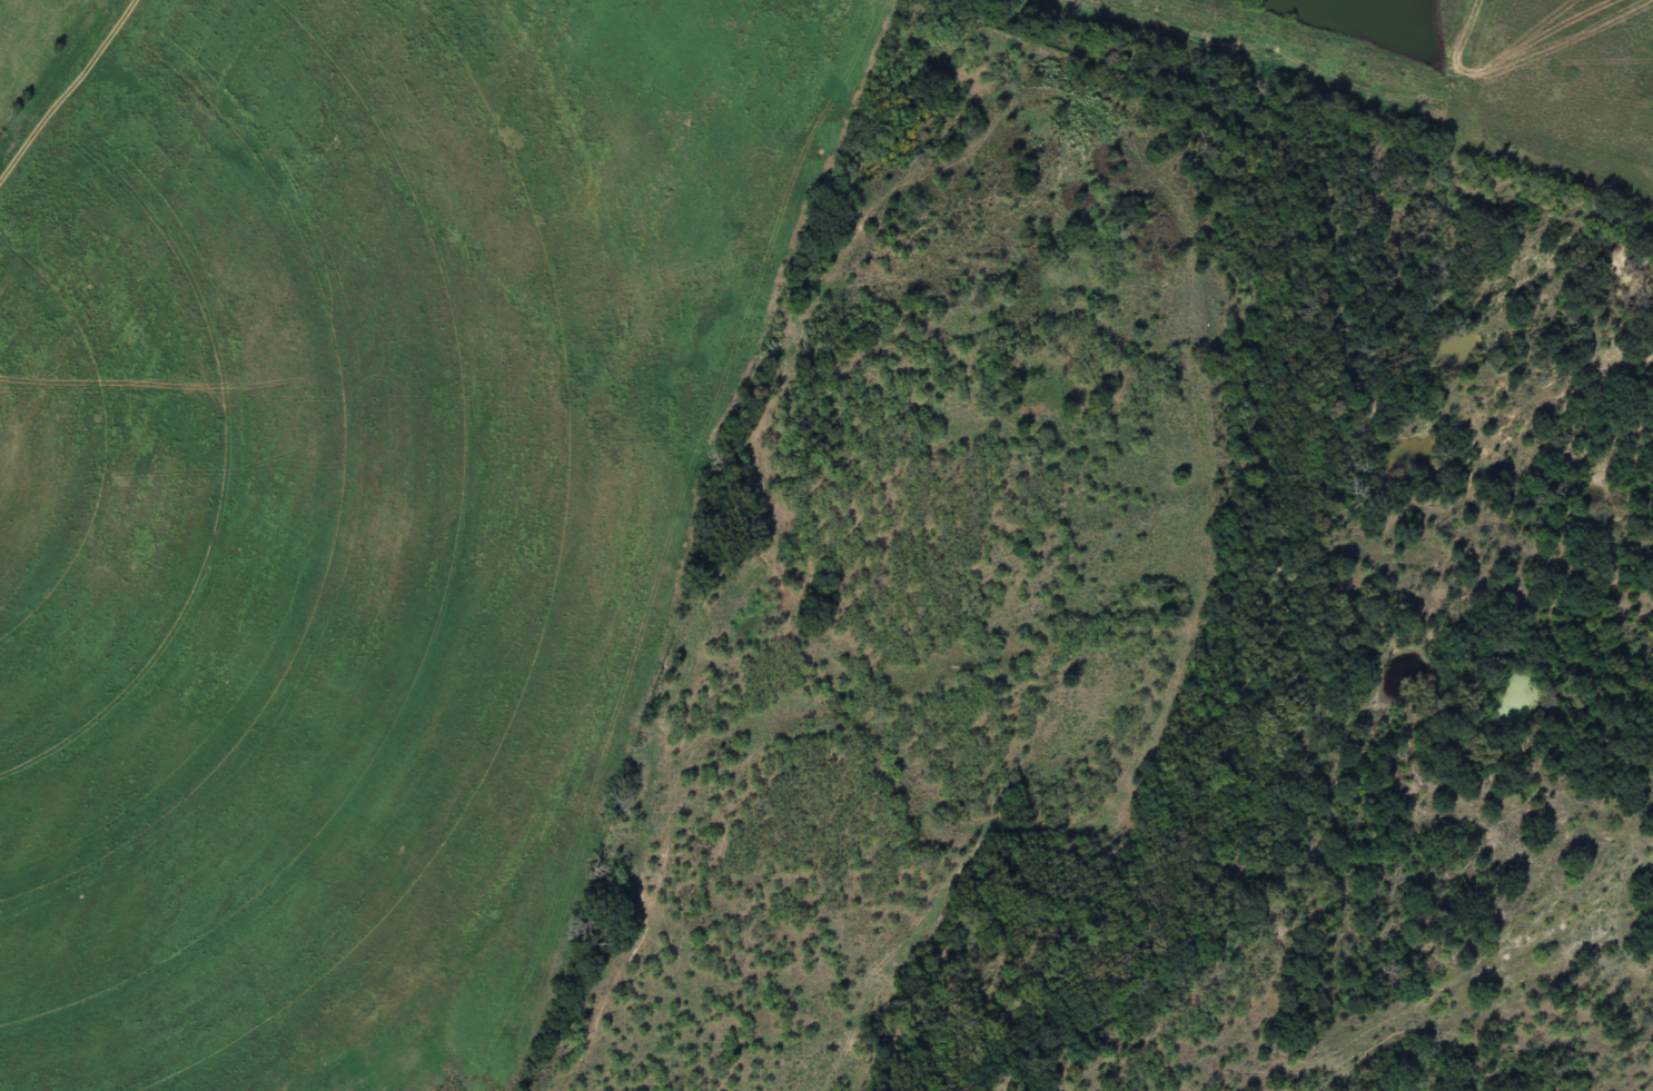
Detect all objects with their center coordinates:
road: (89, 96)

